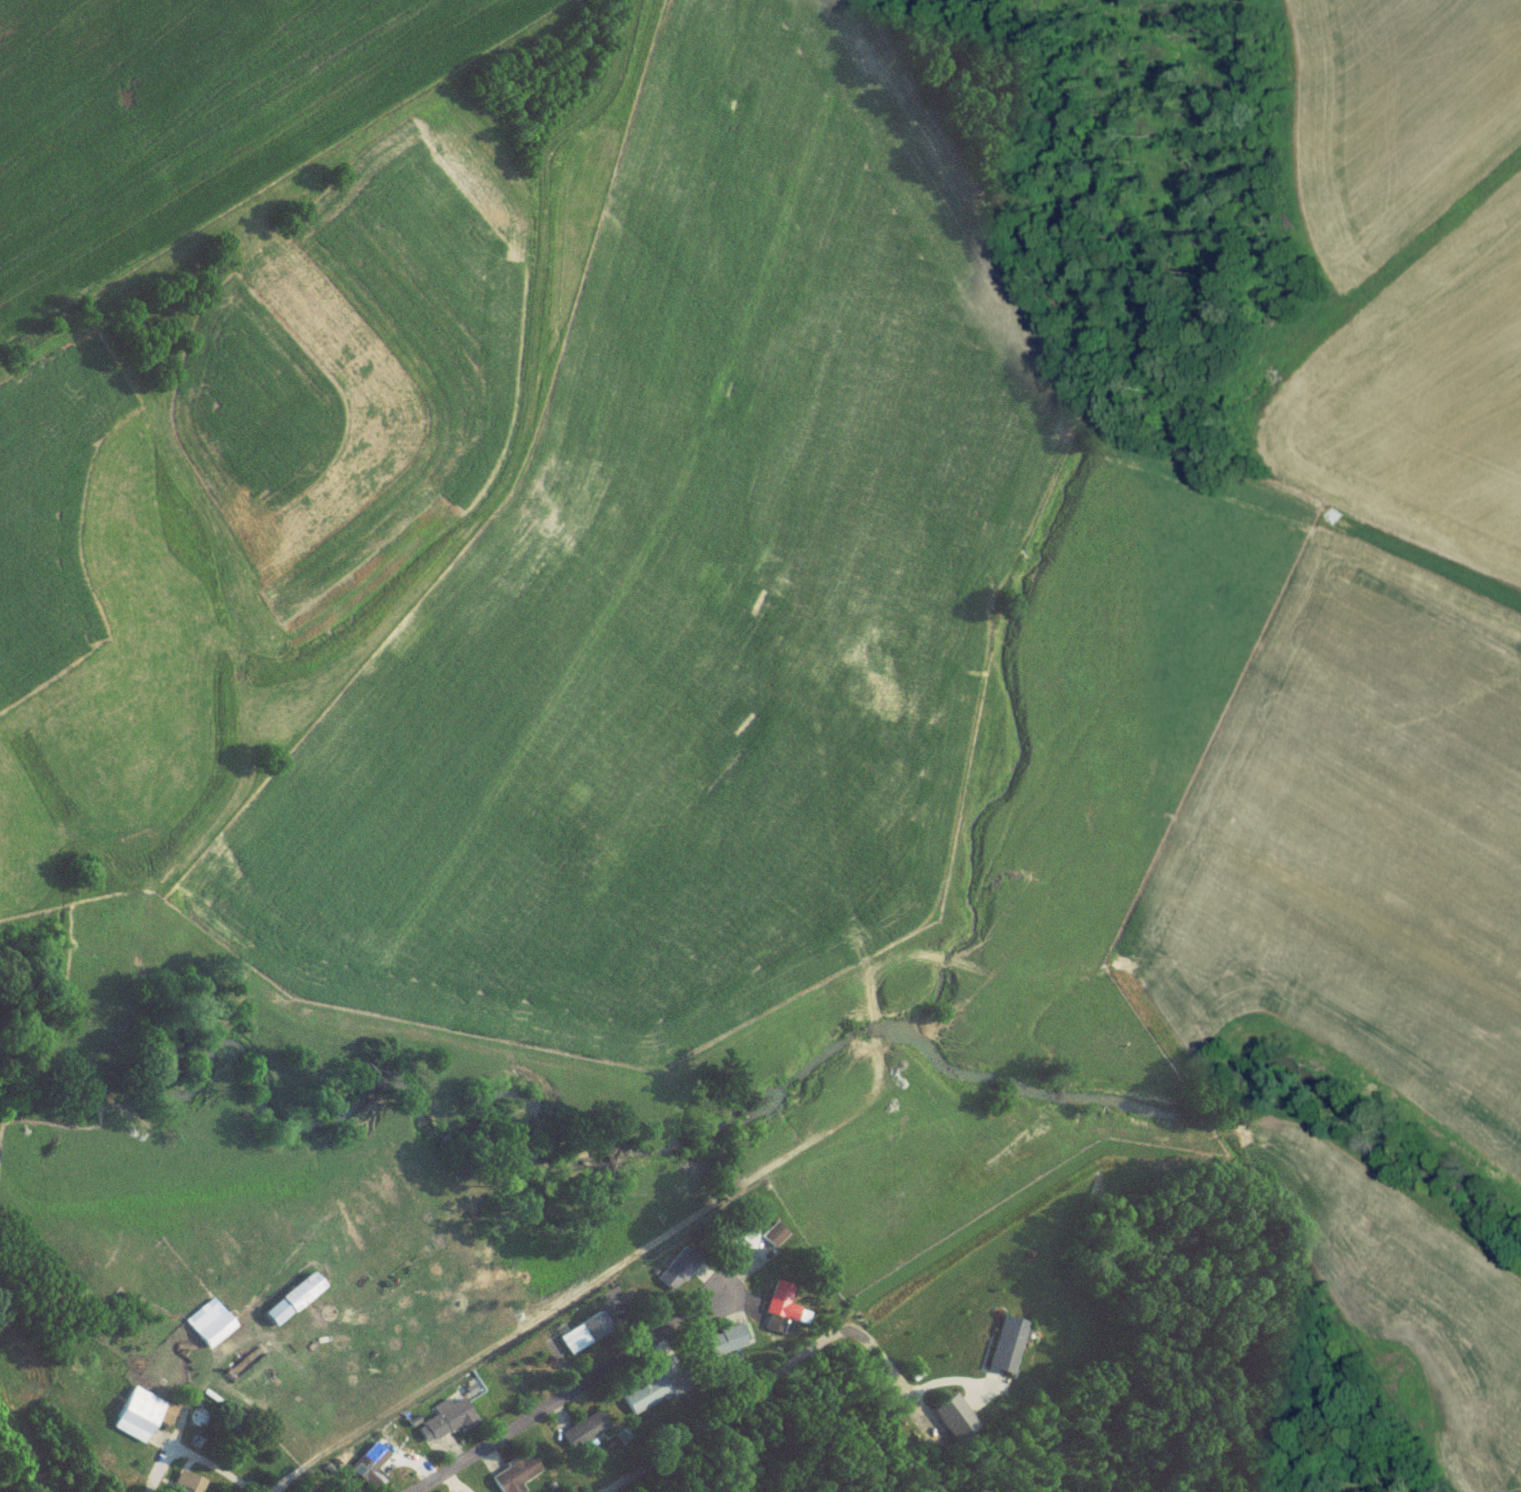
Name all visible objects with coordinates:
building: (737, 1241)
building: (288, 1305)
building: (779, 1308)
building: (207, 1329)
building: (582, 1338)
building: (730, 1342)
building: (1004, 1351)
road: (556, 1398)
building: (644, 1399)
road: (725, 1414)
building: (134, 1421)
building: (446, 1428)
building: (585, 1436)
road: (188, 1459)
building: (507, 1482)

